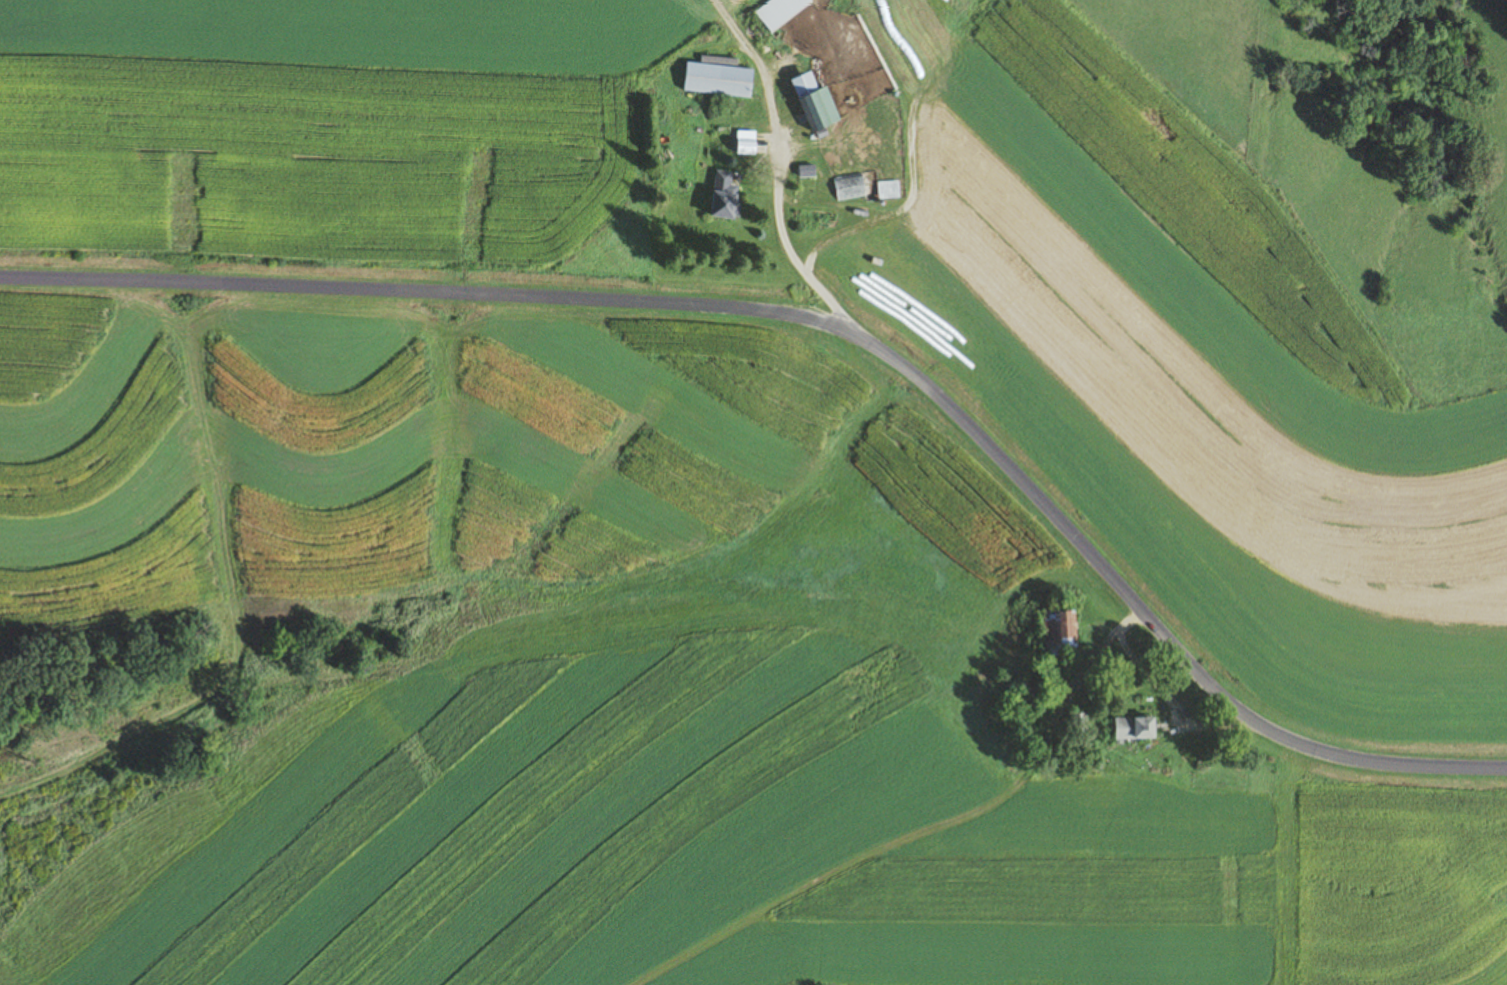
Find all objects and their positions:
building: (782, 12)
building: (720, 80)
building: (818, 104)
building: (748, 142)
building: (851, 186)
building: (890, 190)
road: (773, 196)
building: (726, 197)
road: (833, 324)
building: (1060, 630)
building: (1032, 696)
building: (1080, 724)
building: (1136, 728)

